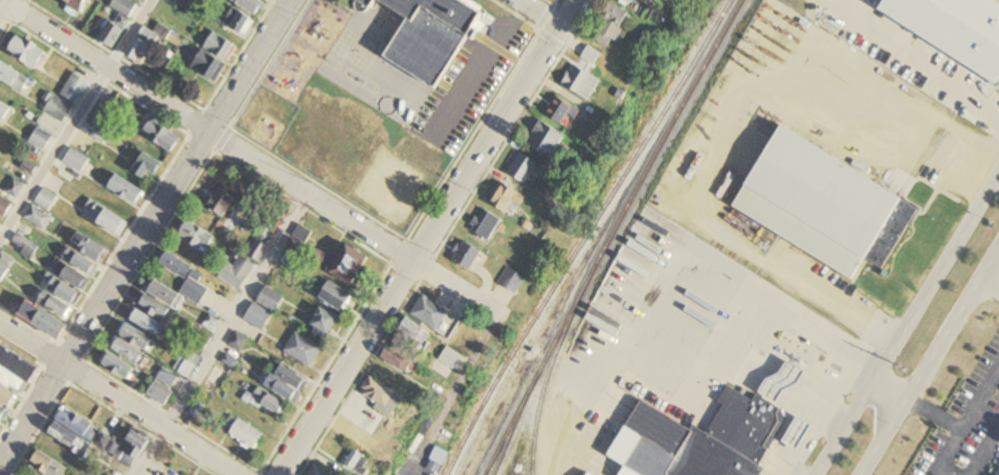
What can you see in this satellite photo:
building: (138, 1)
building: (172, 1)
building: (650, 1)
building: (629, 2)
building: (77, 5)
building: (251, 5)
building: (363, 5)
road: (5, 8)
road: (537, 14)
building: (119, 21)
building: (238, 22)
building: (612, 26)
building: (956, 28)
building: (430, 35)
building: (145, 44)
building: (27, 52)
building: (592, 55)
building: (213, 57)
road: (916, 60)
building: (14, 78)
building: (582, 82)
building: (75, 88)
building: (58, 109)
building: (4, 112)
building: (567, 113)
building: (98, 124)
road: (79, 125)
building: (161, 135)
building: (40, 139)
building: (547, 140)
building: (76, 160)
road: (256, 162)
building: (144, 165)
building: (523, 168)
building: (14, 189)
building: (126, 190)
building: (506, 198)
building: (46, 200)
building: (224, 203)
building: (825, 204)
building: (38, 218)
building: (104, 219)
building: (486, 225)
road: (144, 230)
building: (197, 236)
railway: (584, 236)
railway: (610, 236)
road: (427, 238)
building: (25, 247)
building: (85, 254)
building: (469, 257)
building: (350, 265)
building: (232, 277)
building: (76, 278)
building: (512, 281)
road: (990, 283)
building: (193, 284)
building: (336, 297)
building: (270, 300)
building: (53, 309)
building: (152, 316)
building: (258, 317)
building: (434, 317)
road: (906, 322)
building: (325, 323)
building: (210, 324)
road: (221, 335)
building: (411, 339)
building: (236, 340)
building: (132, 343)
building: (303, 350)
building: (192, 353)
building: (450, 359)
building: (398, 361)
road: (930, 363)
building: (117, 366)
power tower: (903, 368)
railway: (548, 369)
building: (16, 371)
building: (166, 377)
road: (991, 379)
building: (214, 381)
building: (288, 383)
road: (458, 386)
building: (159, 393)
road: (887, 393)
building: (380, 395)
building: (6, 397)
road: (118, 399)
building: (2, 412)
road: (933, 416)
building: (76, 423)
railway: (511, 425)
road: (963, 425)
building: (246, 434)
building: (798, 434)
building: (69, 439)
building: (699, 440)
building: (101, 441)
building: (130, 448)
road: (984, 452)
building: (359, 463)
building: (47, 465)
road: (934, 473)
road: (940, 473)

